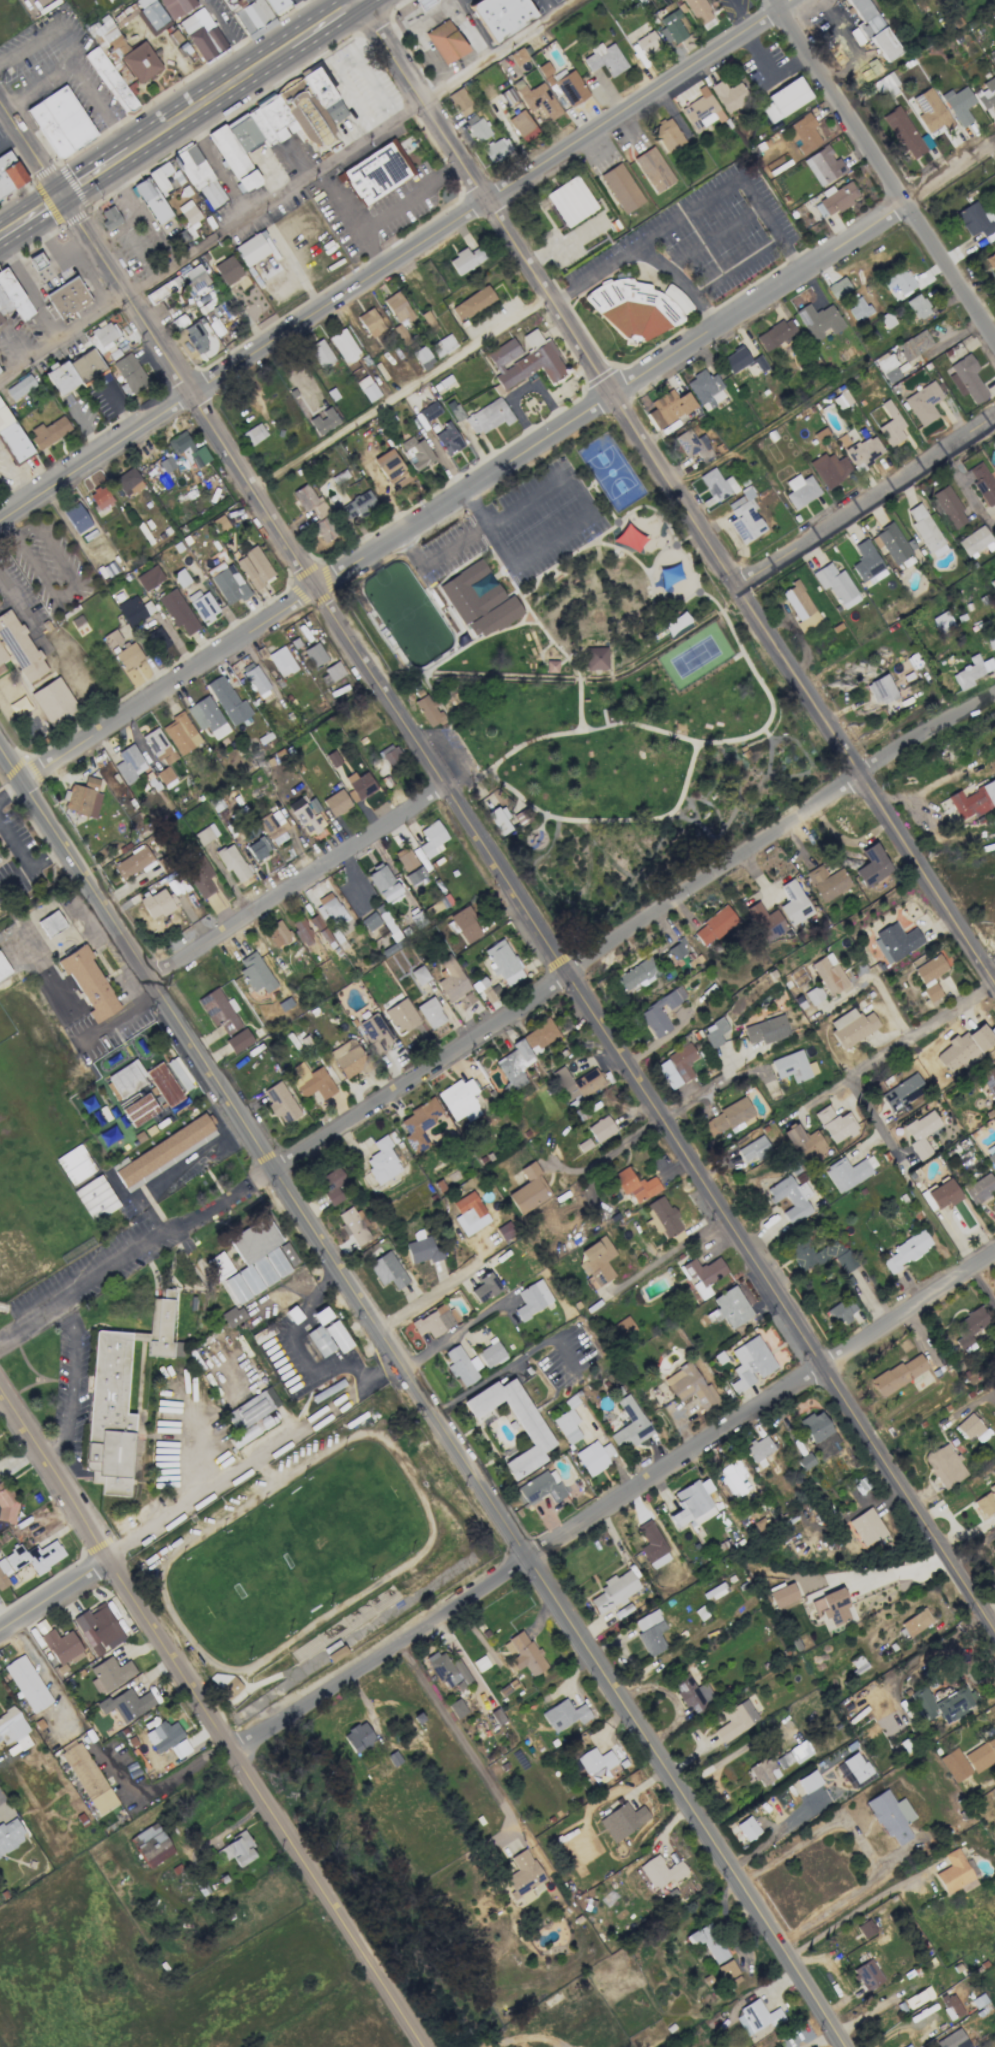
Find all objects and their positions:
building: (225, 0)
road: (359, 1)
building: (275, 4)
building: (422, 6)
gas station: (422, 6)
road: (549, 6)
building: (176, 7)
parking lot: (735, 7)
building: (697, 11)
building: (125, 13)
road: (739, 13)
building: (251, 14)
building: (152, 15)
building: (501, 16)
building: (673, 25)
road: (321, 26)
road: (476, 26)
building: (873, 28)
building: (201, 34)
road: (233, 34)
road: (415, 34)
building: (107, 35)
building: (647, 43)
building: (442, 45)
road: (336, 47)
building: (517, 56)
building: (605, 59)
road: (75, 62)
building: (140, 62)
road: (36, 78)
building: (564, 84)
building: (886, 84)
building: (108, 85)
road: (396, 91)
building: (986, 94)
building: (729, 95)
building: (539, 99)
building: (785, 99)
road: (1, 101)
road: (206, 101)
building: (460, 102)
building: (958, 104)
building: (701, 110)
building: (931, 111)
building: (277, 124)
road: (340, 124)
building: (58, 126)
building: (522, 126)
building: (476, 127)
building: (904, 132)
building: (805, 133)
building: (667, 135)
road: (11, 136)
building: (497, 149)
road: (295, 157)
building: (823, 165)
road: (442, 167)
road: (886, 168)
building: (653, 169)
building: (375, 173)
road: (96, 174)
building: (10, 175)
building: (160, 177)
building: (200, 177)
building: (621, 187)
road: (286, 191)
traffic signals: (65, 195)
building: (835, 198)
building: (151, 200)
building: (570, 201)
road: (754, 203)
road: (380, 207)
building: (188, 212)
road: (32, 216)
building: (110, 217)
road: (351, 219)
building: (975, 220)
road: (146, 222)
parking lot: (705, 236)
road: (713, 239)
building: (251, 249)
road: (642, 253)
road: (58, 258)
building: (467, 259)
building: (991, 260)
road: (395, 261)
building: (35, 265)
gas station: (35, 265)
building: (227, 269)
building: (194, 279)
building: (899, 283)
building: (838, 287)
building: (163, 288)
road: (30, 289)
building: (12, 298)
building: (66, 302)
building: (472, 302)
building: (917, 306)
building: (857, 308)
building: (638, 309)
building: (399, 315)
building: (819, 320)
building: (428, 321)
building: (370, 322)
building: (776, 333)
building: (104, 335)
building: (196, 337)
road: (17, 340)
building: (914, 344)
building: (343, 345)
building: (443, 345)
building: (321, 354)
building: (423, 357)
building: (735, 359)
building: (525, 360)
building: (759, 363)
building: (888, 368)
building: (74, 370)
building: (129, 374)
building: (966, 378)
building: (20, 387)
building: (367, 388)
building: (704, 388)
road: (401, 392)
building: (842, 400)
building: (923, 402)
building: (668, 407)
building: (429, 411)
building: (488, 416)
building: (323, 421)
building: (891, 425)
building: (48, 431)
building: (253, 434)
building: (12, 438)
building: (448, 439)
building: (694, 445)
building: (188, 449)
building: (864, 451)
building: (416, 452)
road: (508, 463)
building: (166, 464)
building: (390, 467)
building: (830, 469)
building: (994, 469)
park: (612, 470)
road: (17, 472)
building: (128, 481)
building: (982, 482)
building: (716, 485)
road: (676, 489)
building: (801, 490)
building: (100, 497)
building: (308, 500)
road: (867, 502)
building: (357, 505)
building: (949, 506)
building: (76, 517)
building: (744, 517)
parking lot: (541, 521)
building: (219, 523)
building: (324, 529)
building: (926, 531)
road: (578, 533)
building: (974, 541)
building: (891, 543)
building: (867, 564)
building: (254, 566)
building: (148, 577)
building: (180, 577)
building: (836, 584)
building: (229, 586)
road: (68, 589)
building: (469, 591)
building: (203, 605)
building: (800, 606)
building: (133, 610)
road: (530, 610)
building: (178, 611)
building: (941, 621)
building: (676, 624)
road: (496, 632)
building: (111, 638)
building: (990, 639)
building: (157, 640)
building: (18, 646)
road: (52, 648)
building: (314, 654)
building: (128, 656)
park: (695, 656)
building: (595, 657)
building: (281, 661)
road: (544, 666)
building: (551, 666)
building: (334, 670)
building: (971, 671)
building: (255, 680)
park: (590, 682)
building: (881, 689)
building: (53, 701)
building: (228, 701)
road: (771, 704)
building: (19, 705)
building: (429, 710)
building: (207, 716)
building: (181, 733)
building: (390, 755)
building: (332, 758)
building: (129, 763)
road: (469, 767)
building: (359, 785)
road: (10, 789)
building: (83, 798)
building: (336, 802)
building: (968, 802)
building: (312, 805)
building: (306, 818)
building: (499, 822)
road: (610, 822)
building: (273, 826)
building: (205, 834)
building: (431, 838)
building: (405, 859)
building: (132, 862)
road: (497, 862)
road: (25, 863)
building: (233, 863)
building: (872, 866)
building: (414, 875)
building: (199, 876)
road: (298, 881)
building: (382, 882)
building: (827, 882)
building: (155, 903)
building: (794, 903)
building: (331, 910)
building: (417, 918)
building: (315, 921)
building: (370, 921)
building: (765, 922)
building: (50, 923)
building: (465, 924)
building: (714, 926)
road: (630, 927)
building: (302, 931)
building: (277, 933)
building: (325, 935)
building: (896, 941)
building: (677, 949)
road: (136, 958)
building: (503, 962)
road: (990, 963)
building: (3, 968)
building: (255, 973)
building: (419, 973)
building: (636, 974)
building: (828, 974)
building: (929, 975)
building: (451, 979)
building: (89, 983)
building: (483, 988)
building: (813, 994)
building: (219, 1010)
building: (430, 1013)
building: (658, 1013)
building: (401, 1016)
building: (851, 1026)
building: (766, 1029)
building: (375, 1032)
building: (714, 1032)
building: (539, 1034)
building: (238, 1040)
road: (900, 1047)
building: (963, 1048)
building: (349, 1058)
building: (682, 1061)
building: (515, 1064)
building: (793, 1066)
building: (668, 1074)
building: (126, 1078)
building: (989, 1080)
building: (310, 1081)
building: (163, 1083)
building: (576, 1083)
building: (902, 1092)
road: (694, 1094)
building: (460, 1100)
building: (281, 1103)
building: (140, 1109)
road: (870, 1110)
building: (727, 1118)
building: (418, 1124)
building: (835, 1124)
building: (601, 1129)
building: (921, 1132)
building: (803, 1142)
building: (584, 1145)
road: (614, 1149)
building: (754, 1149)
building: (163, 1150)
building: (992, 1157)
building: (382, 1161)
building: (74, 1164)
building: (846, 1173)
road: (157, 1177)
building: (332, 1184)
building: (635, 1184)
building: (979, 1187)
building: (529, 1189)
park: (30, 1197)
building: (95, 1197)
building: (790, 1198)
building: (469, 1213)
building: (664, 1216)
building: (356, 1224)
building: (505, 1230)
park: (34, 1241)
building: (422, 1248)
building: (286, 1250)
building: (906, 1250)
road: (671, 1251)
road: (135, 1254)
building: (258, 1254)
building: (819, 1254)
building: (597, 1261)
building: (218, 1265)
building: (387, 1270)
building: (703, 1275)
building: (484, 1286)
building: (236, 1288)
road: (982, 1291)
road: (422, 1299)
building: (532, 1299)
building: (730, 1307)
building: (840, 1312)
building: (233, 1316)
building: (435, 1320)
building: (623, 1326)
building: (968, 1326)
road: (455, 1331)
building: (337, 1336)
building: (320, 1340)
building: (491, 1353)
road: (509, 1363)
building: (750, 1363)
building: (461, 1365)
road: (300, 1373)
building: (898, 1374)
road: (68, 1381)
building: (691, 1386)
building: (120, 1396)
building: (250, 1416)
building: (630, 1425)
building: (567, 1426)
building: (969, 1426)
building: (534, 1431)
building: (820, 1434)
building: (594, 1457)
building: (805, 1461)
road: (56, 1473)
building: (733, 1478)
road: (228, 1485)
building: (541, 1487)
building: (708, 1491)
road: (613, 1501)
building: (7, 1502)
building: (986, 1502)
building: (691, 1505)
building: (866, 1526)
building: (653, 1545)
building: (993, 1550)
park: (297, 1553)
building: (29, 1559)
road: (903, 1570)
building: (614, 1591)
building: (713, 1591)
road: (55, 1594)
building: (783, 1596)
building: (832, 1606)
road: (559, 1607)
building: (916, 1621)
building: (99, 1628)
building: (650, 1631)
building: (61, 1645)
building: (336, 1653)
building: (524, 1654)
building: (480, 1663)
building: (446, 1668)
building: (109, 1674)
building: (27, 1683)
building: (224, 1683)
building: (693, 1693)
building: (944, 1703)
building: (126, 1704)
building: (457, 1708)
building: (564, 1715)
building: (736, 1720)
road: (455, 1729)
building: (13, 1731)
building: (357, 1736)
building: (167, 1738)
building: (794, 1754)
building: (981, 1754)
road: (726, 1758)
road: (103, 1759)
building: (595, 1760)
building: (954, 1764)
building: (854, 1769)
building: (764, 1771)
building: (88, 1778)
building: (808, 1781)
road: (7, 1796)
road: (267, 1804)
building: (890, 1815)
building: (622, 1820)
building: (747, 1828)
road: (774, 1834)
building: (10, 1835)
road: (864, 1844)
building: (150, 1845)
building: (236, 1849)
building: (661, 1871)
building: (953, 1871)
building: (523, 1876)
road: (844, 1918)
building: (865, 1928)
building: (709, 1941)
building: (728, 1972)
building: (867, 1974)
building: (950, 2006)
road: (875, 2008)
building: (757, 2018)
road: (527, 2036)
building: (952, 2039)

